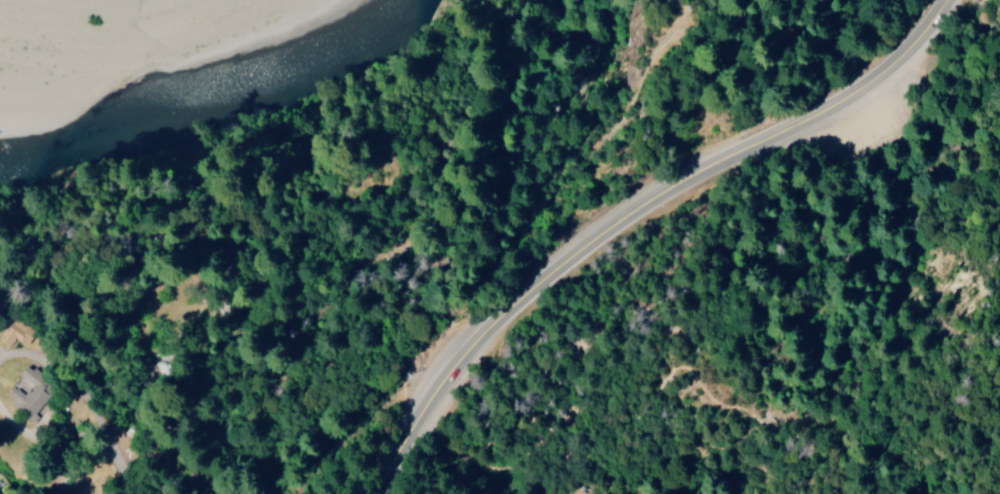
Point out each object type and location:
river: (208, 98)
road: (635, 209)
road: (277, 292)
building: (31, 392)
road: (101, 398)
road: (19, 433)
building: (5, 493)

